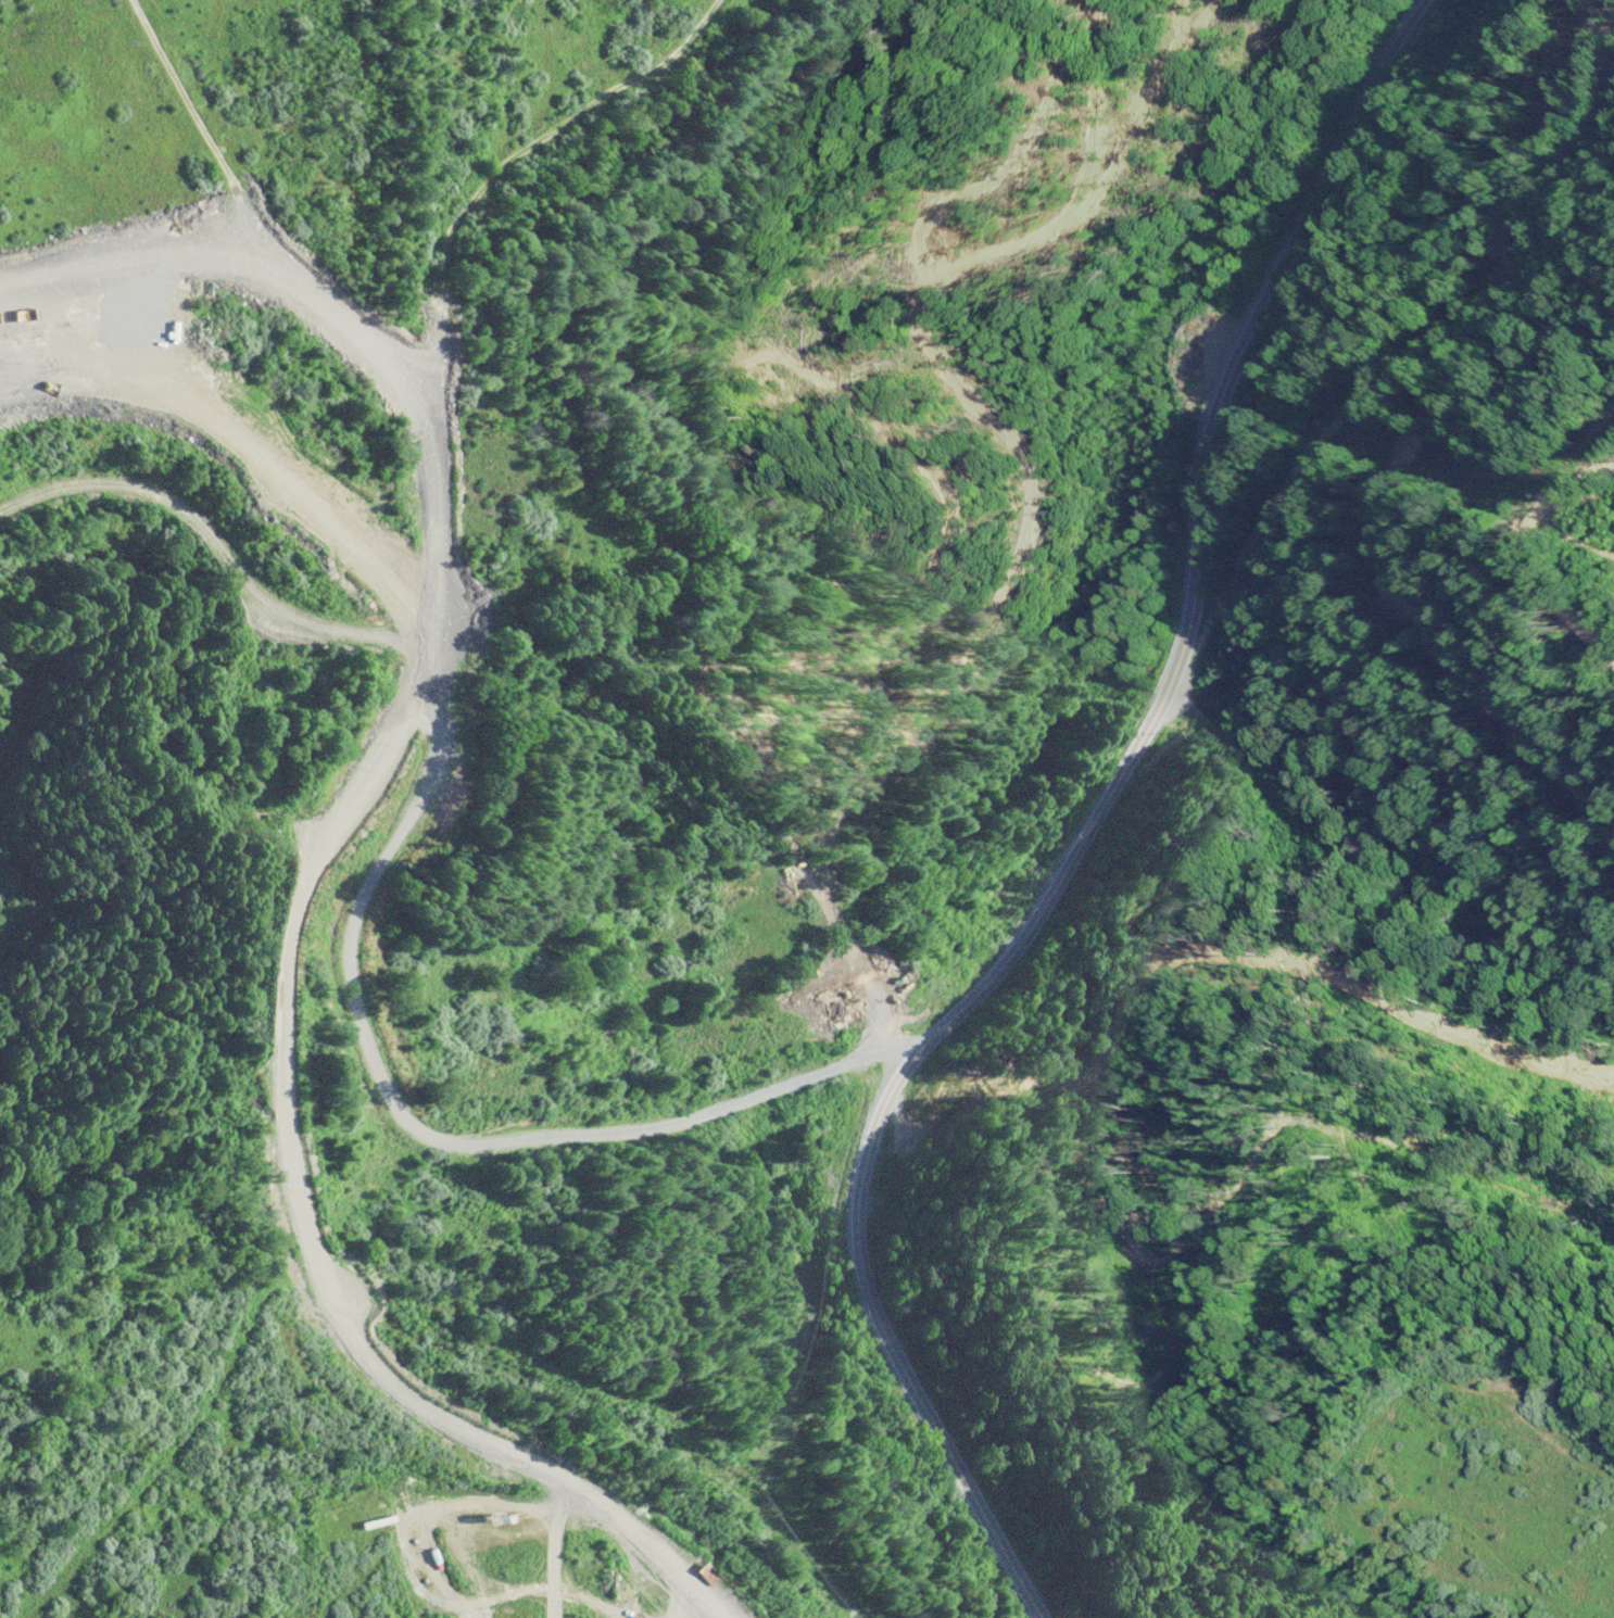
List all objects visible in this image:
quarry: (352, 721)
road: (1090, 824)

